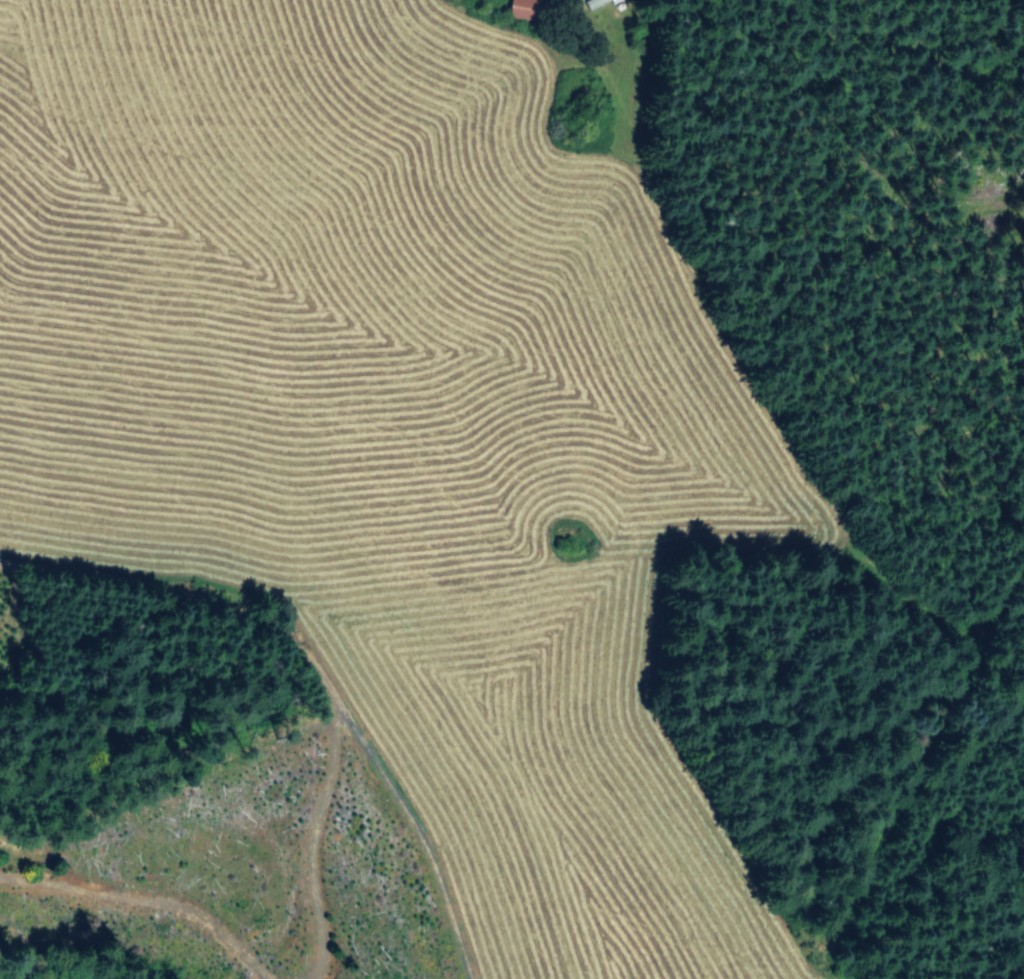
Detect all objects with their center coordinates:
building: (602, 0)
building: (520, 8)
crop: (401, 423)

